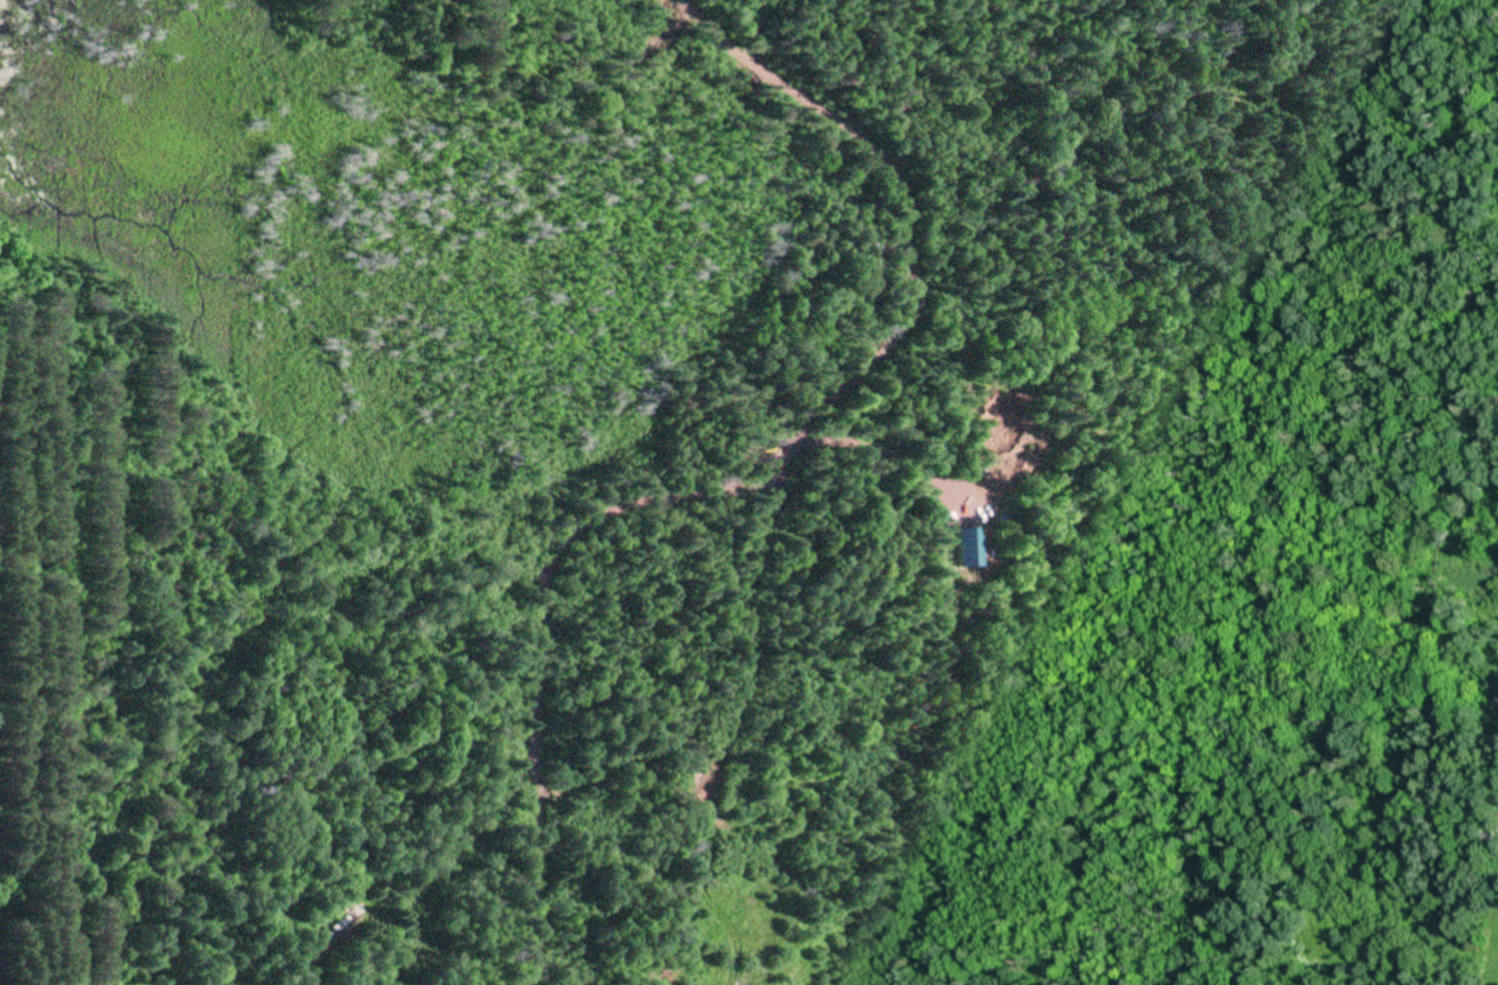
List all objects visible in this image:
building: (346, 914)

